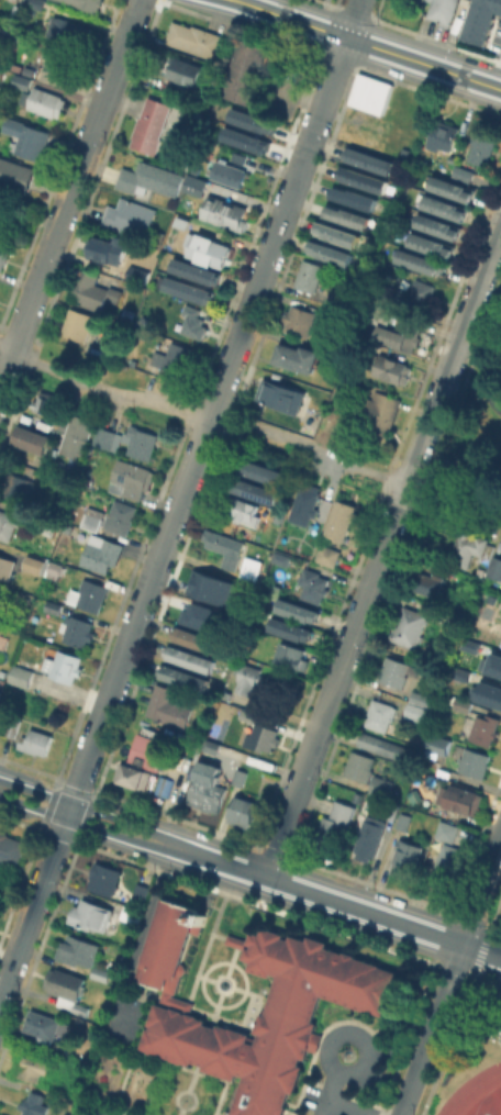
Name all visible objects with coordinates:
building: (12, 0)
building: (37, 3)
building: (85, 5)
building: (443, 10)
road: (354, 19)
building: (482, 20)
building: (69, 31)
building: (194, 38)
road: (368, 44)
building: (62, 63)
building: (185, 70)
building: (246, 73)
building: (22, 80)
building: (371, 92)
building: (44, 101)
building: (250, 121)
building: (151, 124)
building: (442, 135)
building: (25, 137)
building: (244, 140)
building: (480, 149)
building: (243, 158)
building: (370, 158)
building: (185, 163)
building: (227, 172)
building: (459, 172)
building: (15, 174)
building: (145, 177)
building: (363, 177)
building: (197, 182)
building: (453, 185)
road: (69, 191)
building: (354, 192)
building: (445, 203)
building: (224, 212)
building: (347, 212)
building: (130, 215)
building: (175, 222)
building: (438, 222)
building: (338, 230)
building: (156, 236)
building: (432, 241)
building: (109, 248)
building: (331, 248)
building: (209, 249)
building: (3, 252)
building: (421, 259)
building: (199, 275)
building: (309, 275)
building: (92, 290)
building: (421, 290)
building: (192, 293)
building: (330, 313)
building: (129, 314)
building: (299, 320)
building: (193, 321)
building: (80, 326)
building: (408, 327)
building: (293, 356)
building: (174, 357)
building: (392, 368)
building: (281, 394)
road: (470, 399)
building: (49, 403)
building: (313, 409)
building: (379, 411)
park: (480, 416)
road: (250, 425)
building: (105, 436)
building: (35, 438)
building: (78, 439)
building: (142, 442)
building: (260, 467)
building: (130, 478)
building: (20, 483)
building: (253, 487)
building: (305, 504)
building: (245, 511)
road: (172, 517)
building: (123, 520)
building: (341, 520)
building: (9, 521)
building: (93, 521)
building: (47, 528)
building: (225, 547)
building: (471, 547)
road: (383, 550)
building: (101, 553)
building: (327, 555)
building: (281, 558)
building: (33, 564)
building: (252, 565)
building: (7, 566)
building: (496, 567)
building: (55, 569)
building: (424, 582)
building: (313, 584)
building: (209, 587)
building: (14, 593)
building: (92, 594)
building: (54, 606)
building: (298, 609)
building: (200, 615)
building: (409, 625)
building: (290, 626)
building: (79, 632)
building: (193, 639)
building: (500, 639)
building: (468, 644)
building: (292, 653)
building: (191, 657)
building: (62, 662)
building: (489, 662)
building: (396, 670)
building: (18, 673)
building: (459, 673)
building: (185, 676)
building: (248, 678)
building: (0, 691)
building: (486, 693)
building: (420, 698)
building: (463, 704)
building: (168, 705)
building: (415, 711)
building: (380, 714)
building: (485, 728)
building: (264, 737)
building: (36, 742)
building: (438, 744)
building: (196, 745)
building: (212, 745)
building: (387, 746)
building: (146, 749)
building: (475, 761)
building: (359, 765)
building: (436, 767)
building: (131, 772)
building: (240, 777)
building: (160, 785)
building: (208, 785)
building: (380, 785)
building: (463, 799)
building: (242, 810)
building: (391, 810)
building: (403, 819)
building: (334, 827)
building: (447, 829)
building: (370, 836)
building: (11, 848)
building: (408, 858)
building: (448, 860)
road: (249, 872)
building: (104, 878)
building: (141, 891)
road: (481, 891)
building: (131, 913)
building: (91, 915)
building: (78, 950)
building: (101, 973)
building: (67, 989)
building: (290, 1004)
building: (43, 1024)
road: (432, 1029)
road: (354, 1034)
building: (32, 1068)
building: (79, 1068)
track: (469, 1089)
road: (331, 1092)
stadium: (485, 1102)
building: (33, 1104)
road: (345, 1108)
park: (485, 1113)

